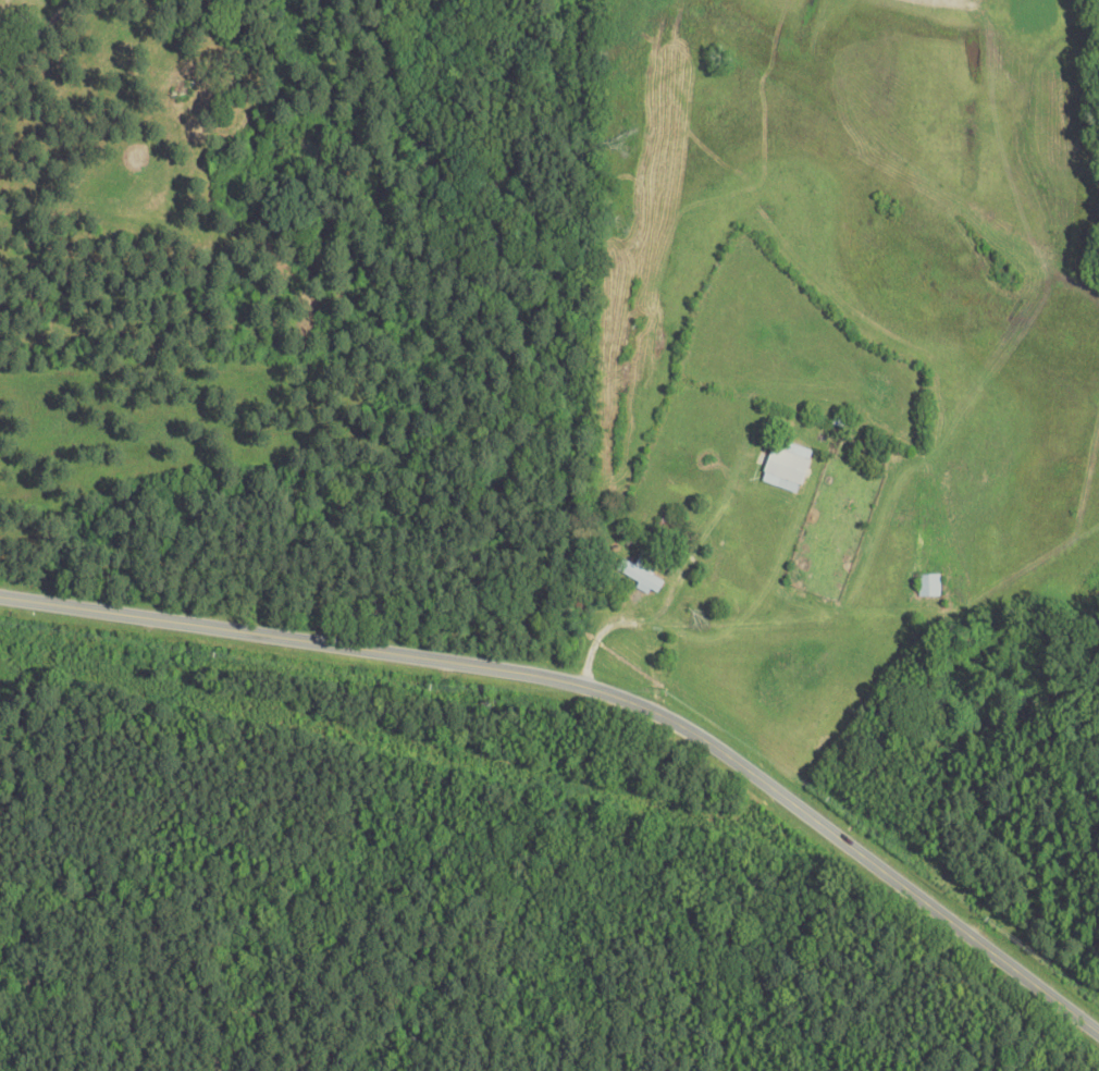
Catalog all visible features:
building: (789, 465)
building: (674, 524)
building: (646, 573)
building: (931, 586)
road: (601, 688)

